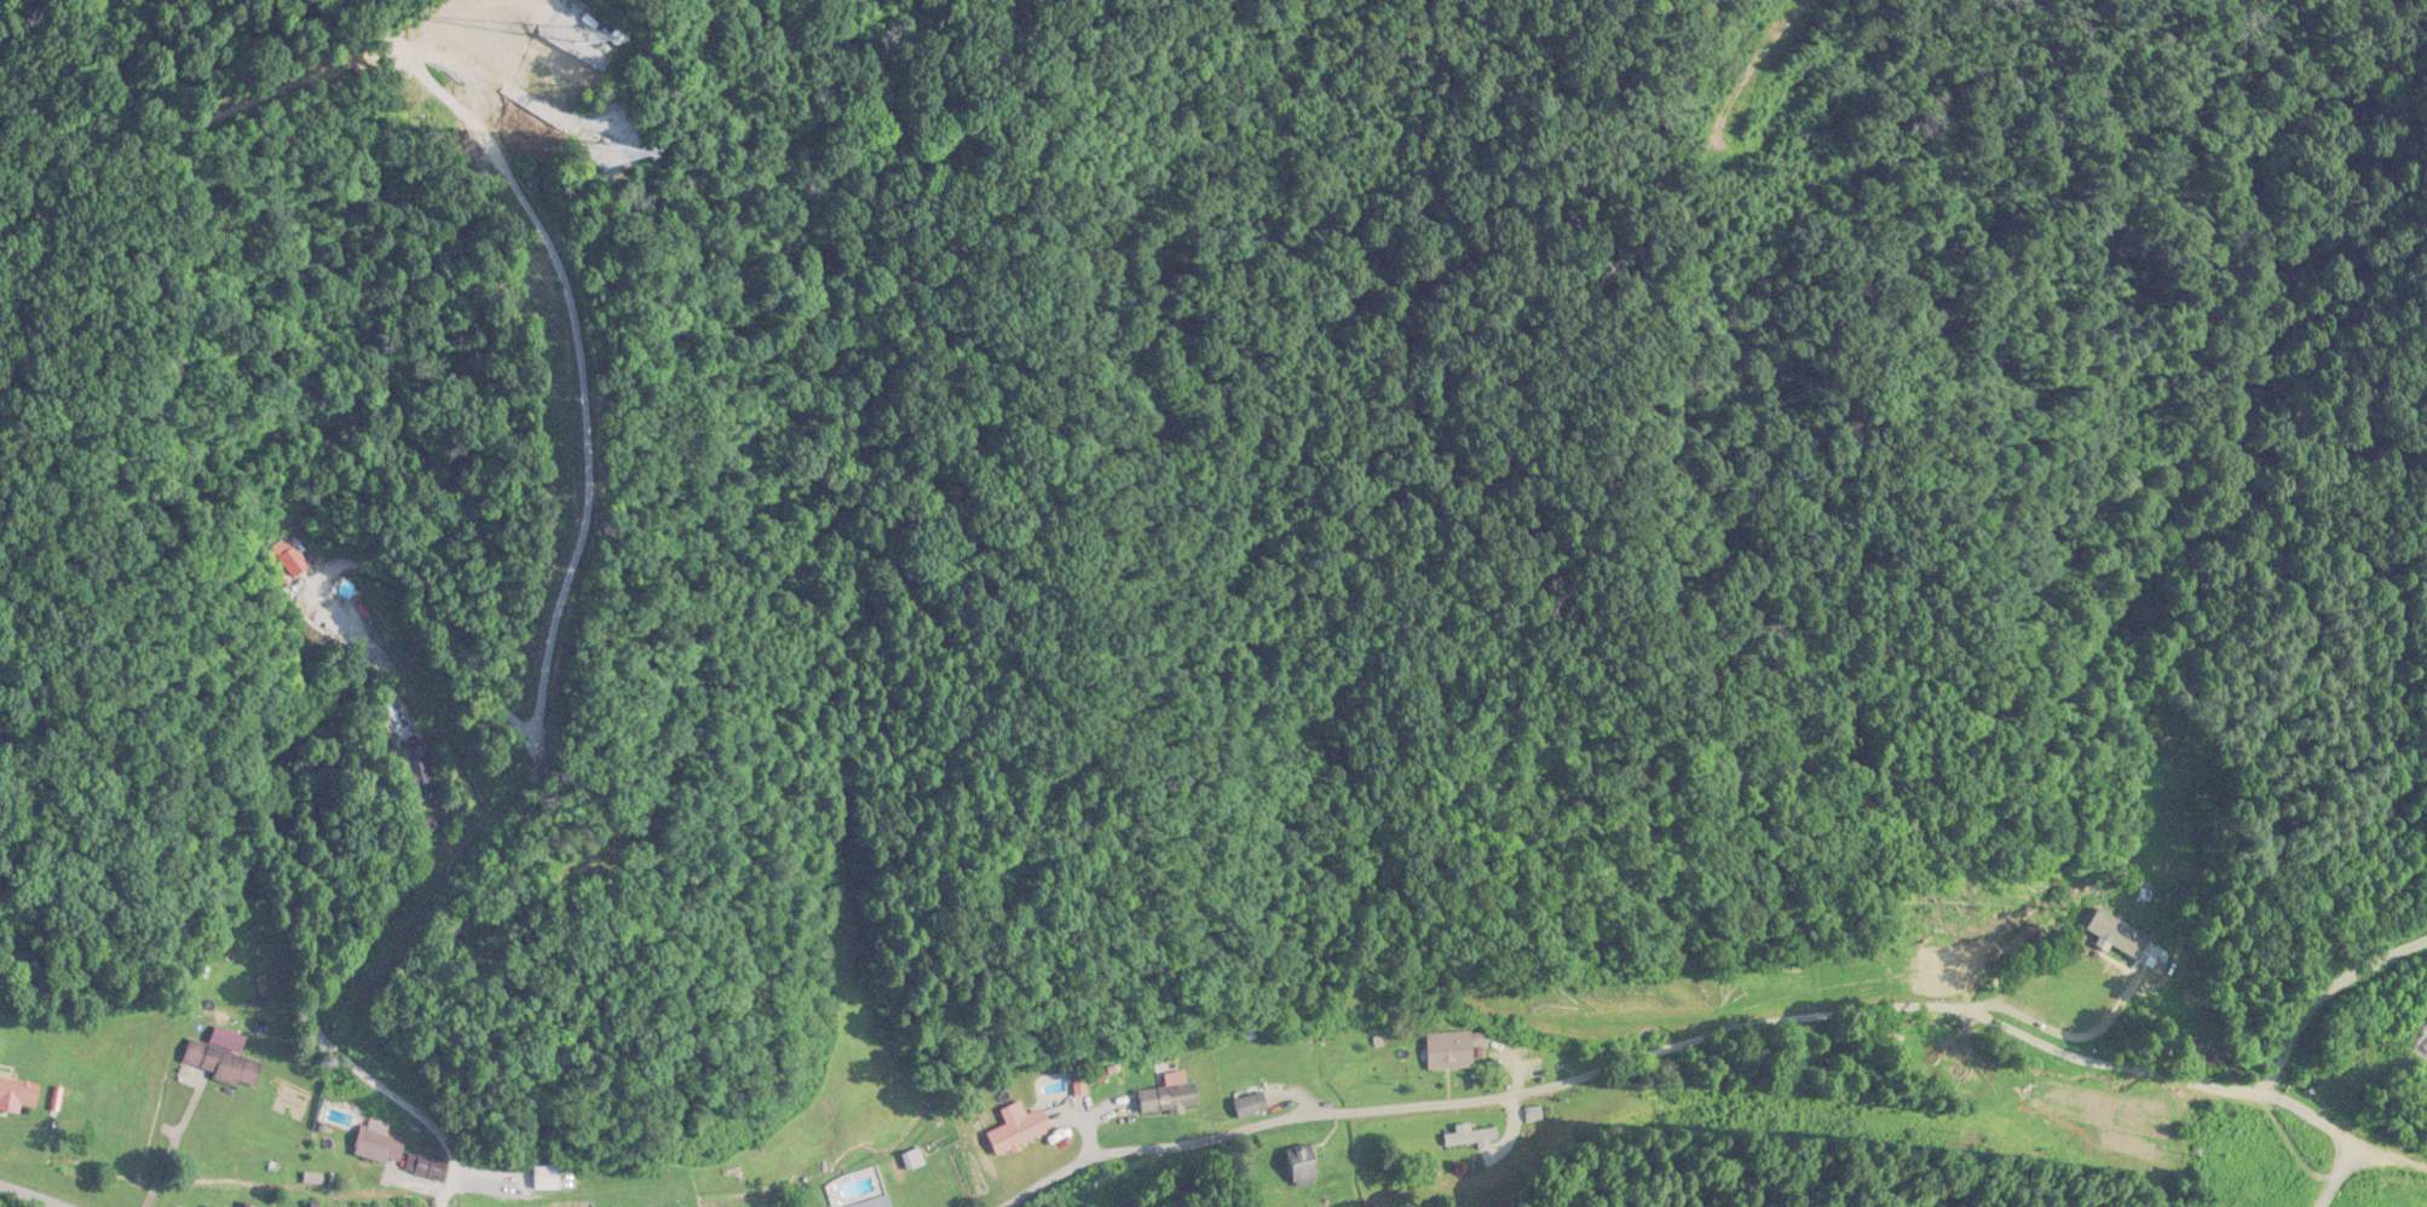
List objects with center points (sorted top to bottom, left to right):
road: (318, 946)
building: (1452, 1050)
building: (225, 1065)
road: (1641, 1065)
building: (17, 1096)
building: (1169, 1097)
building: (1250, 1107)
building: (1016, 1131)
building: (379, 1144)
road: (172, 1145)
building: (1301, 1172)
building: (544, 1178)
building: (858, 1190)
road: (40, 1192)
road: (439, 1200)

